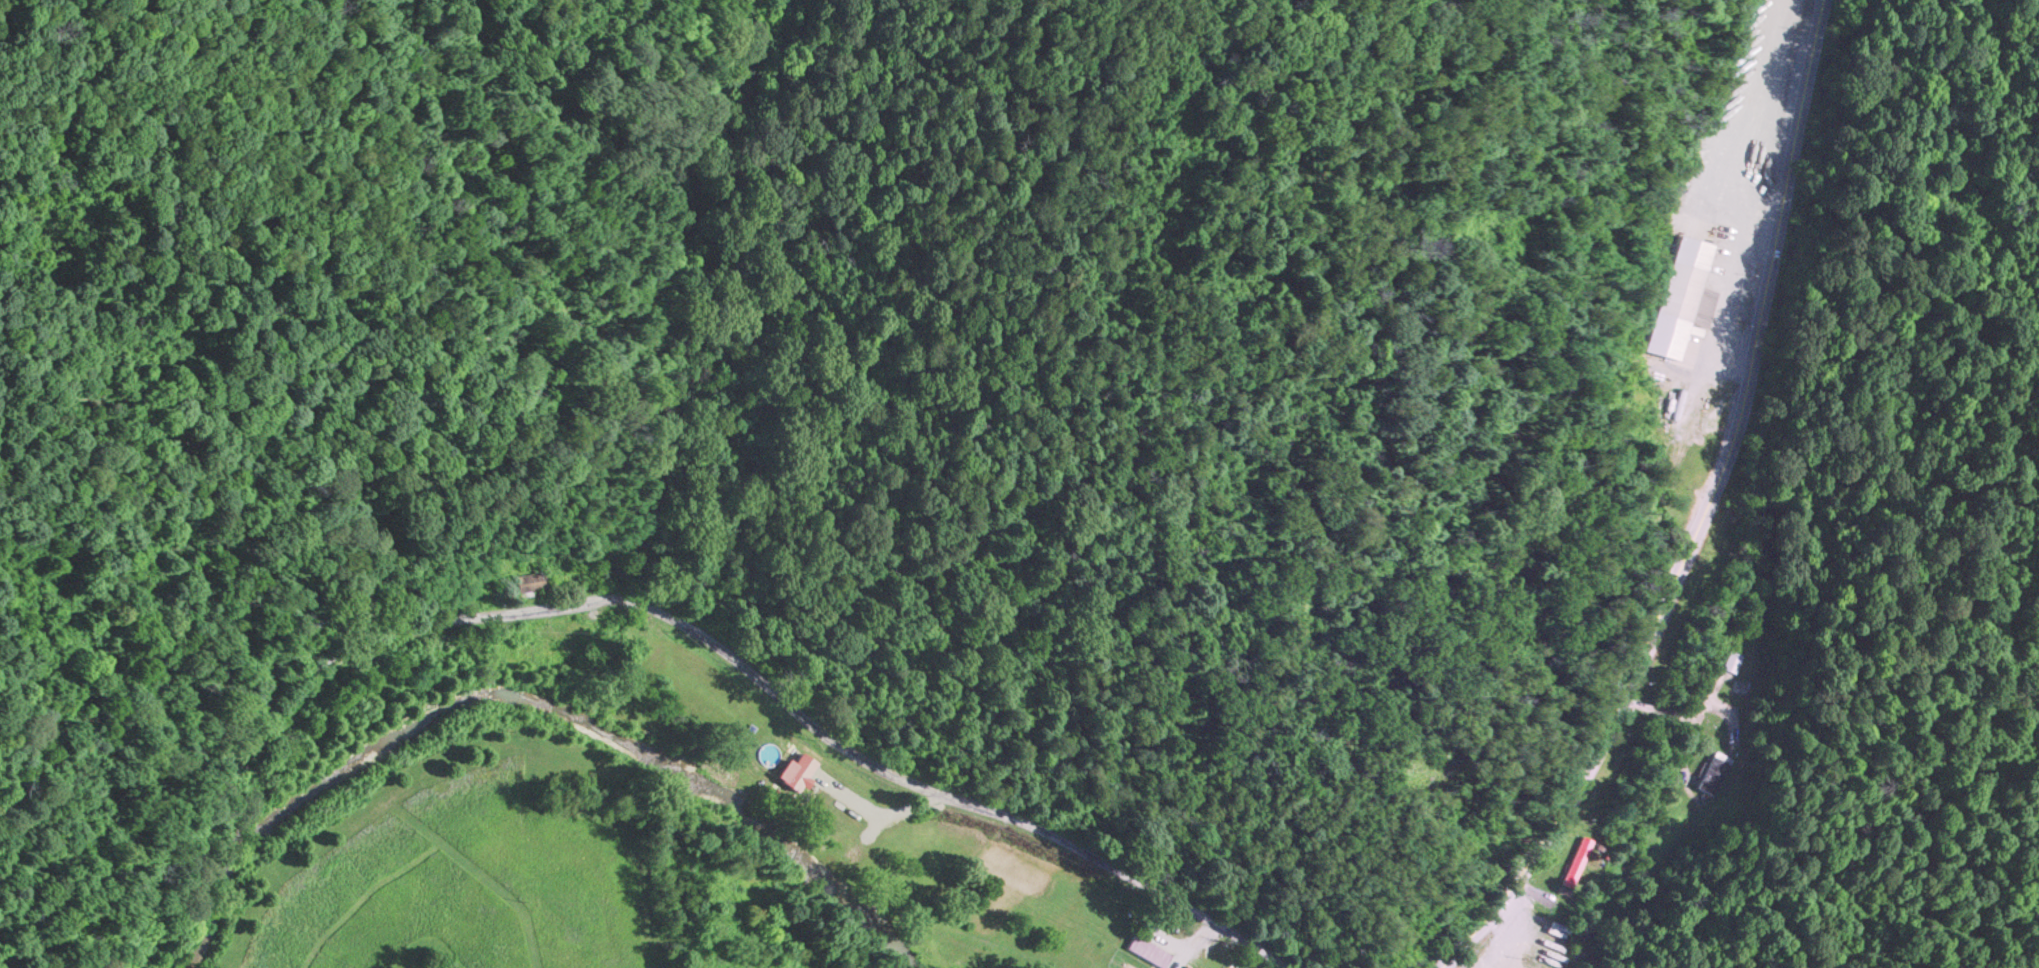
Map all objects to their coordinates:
building: (1680, 297)
building: (1665, 437)
road: (1700, 512)
building: (532, 580)
road: (666, 614)
building: (1732, 661)
building: (1715, 773)
building: (1579, 865)

